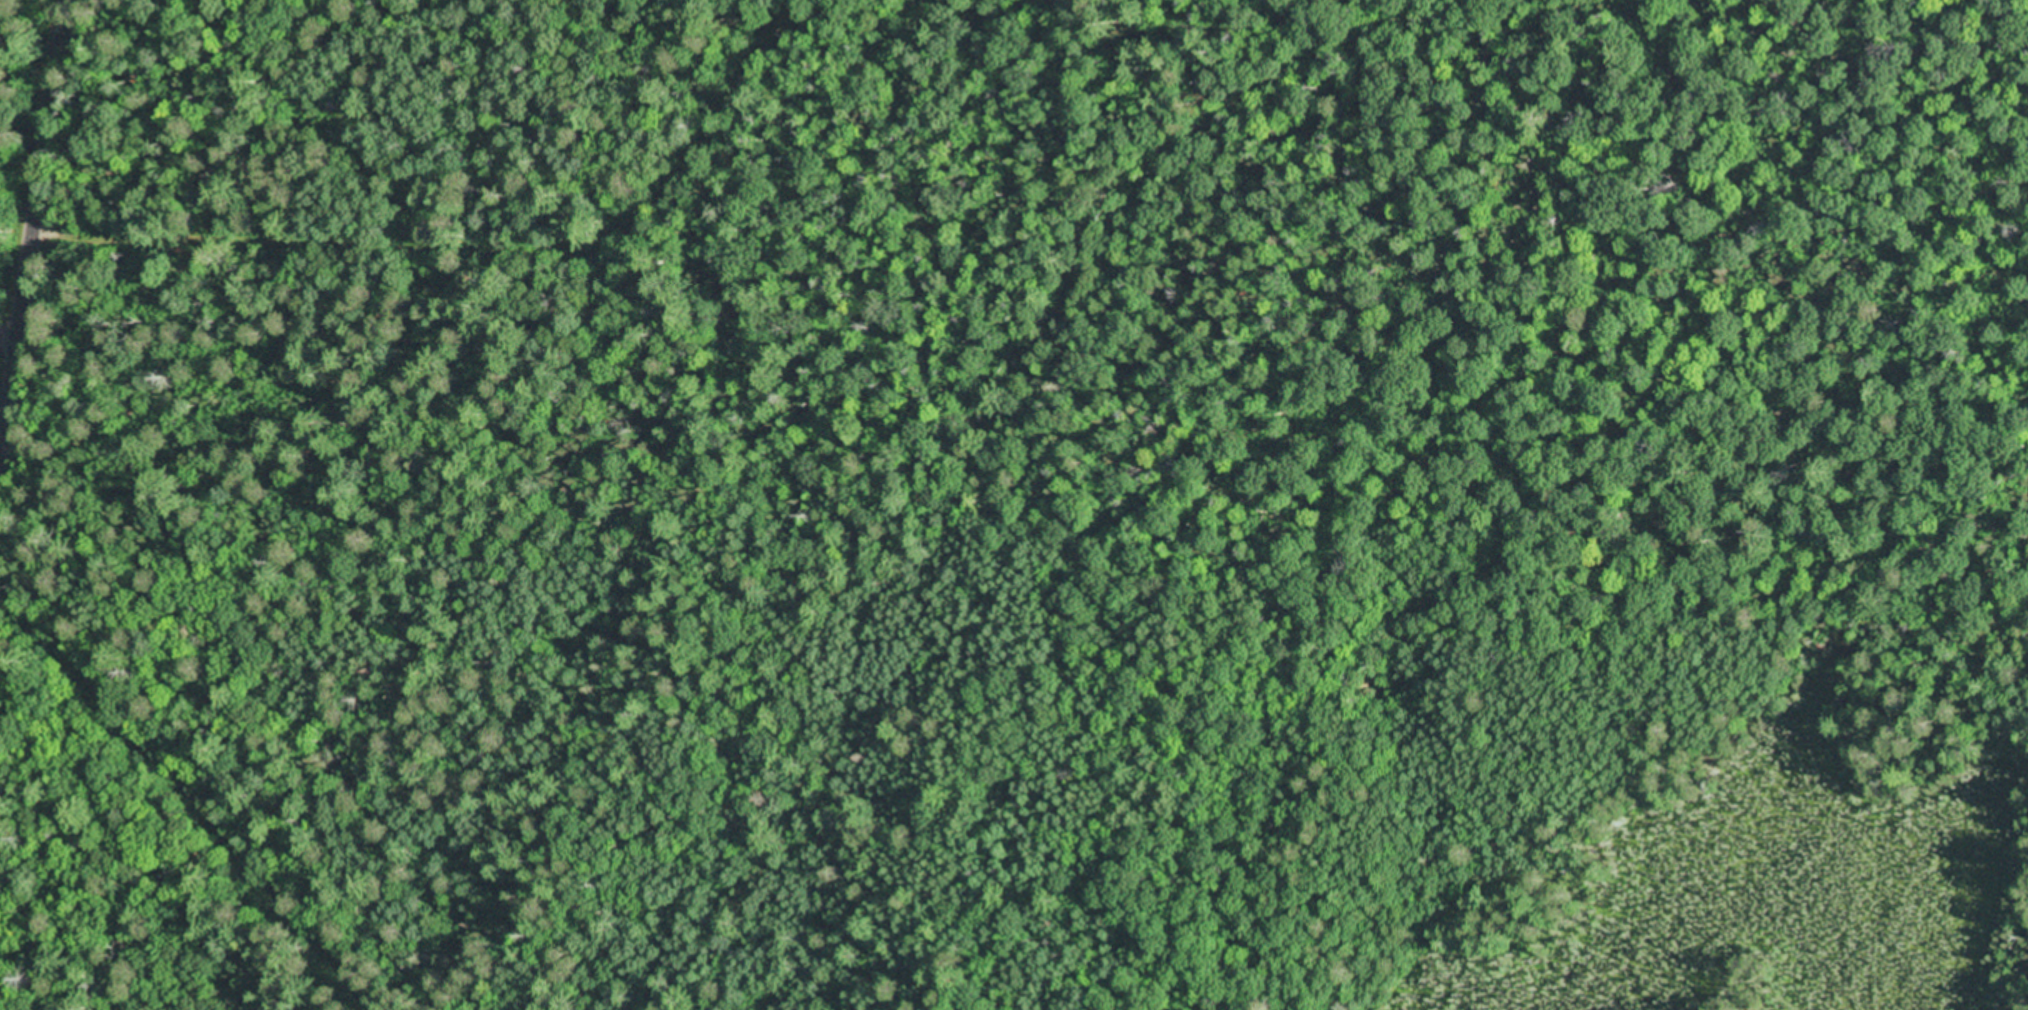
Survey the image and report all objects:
road: (33, 239)
road: (476, 242)
road: (10, 331)

